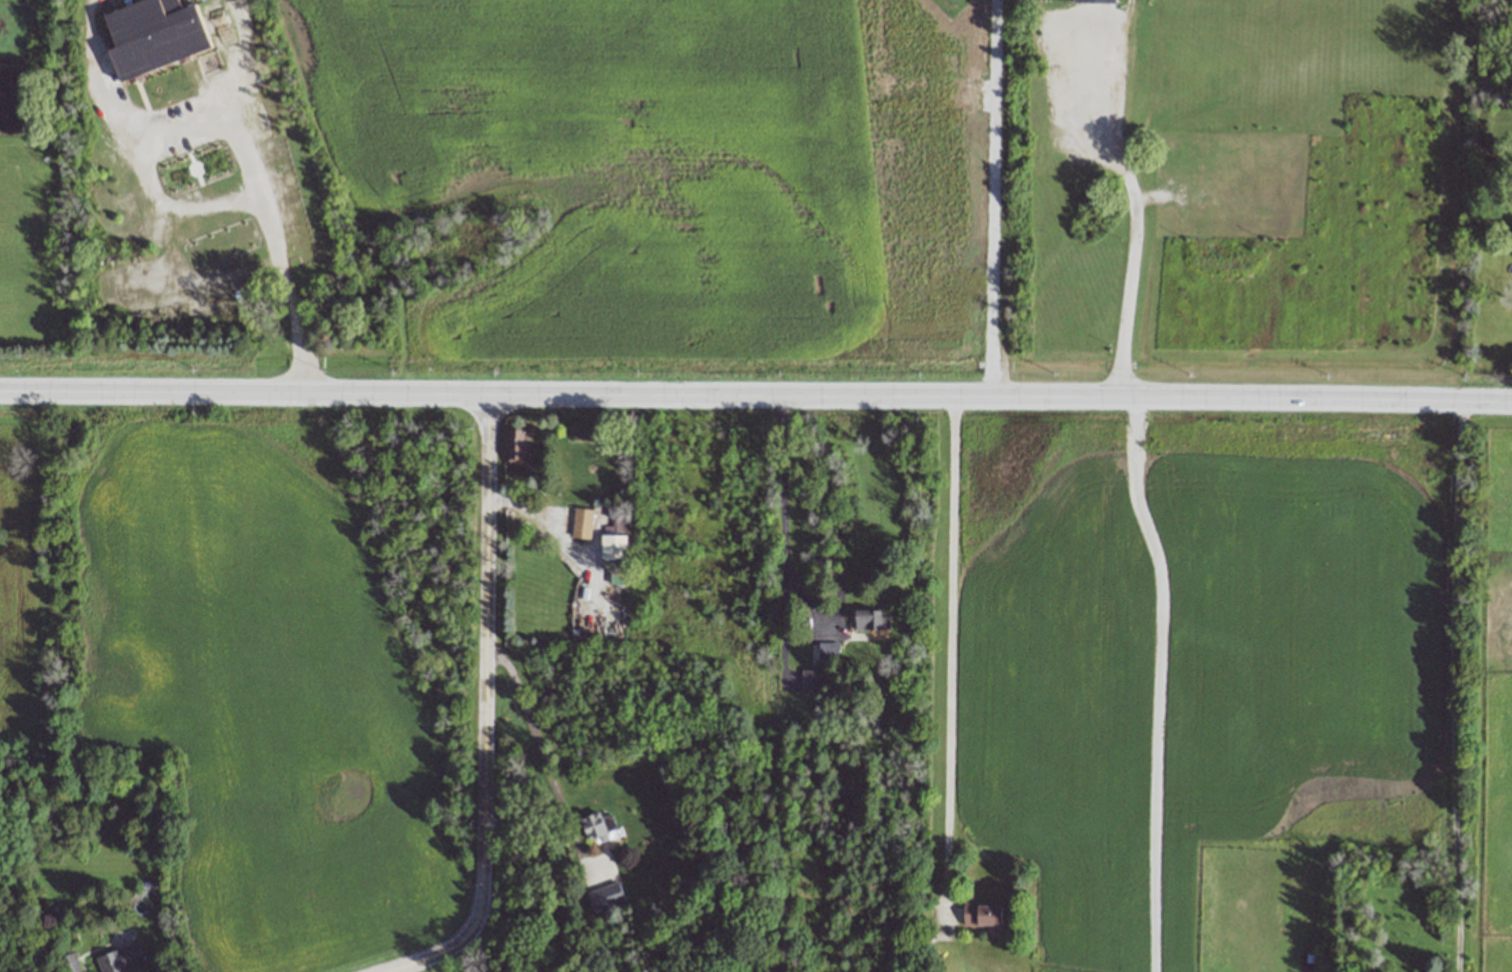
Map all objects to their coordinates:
building: (1094, 0)
road: (1124, 12)
road: (1085, 24)
building: (153, 34)
road: (236, 53)
road: (1085, 58)
road: (93, 73)
road: (1085, 94)
road: (1058, 100)
road: (143, 102)
road: (179, 121)
crop: (618, 173)
road: (993, 202)
road: (172, 206)
road: (1131, 213)
road: (274, 252)
road: (755, 403)
building: (516, 446)
road: (786, 517)
building: (581, 523)
building: (615, 549)
building: (870, 620)
building: (827, 652)
road: (951, 652)
building: (810, 680)
crop: (1192, 681)
road: (1156, 686)
road: (1448, 689)
road: (484, 717)
road: (537, 746)
building: (597, 825)
building: (605, 897)
building: (981, 915)
building: (121, 959)
building: (71, 962)

